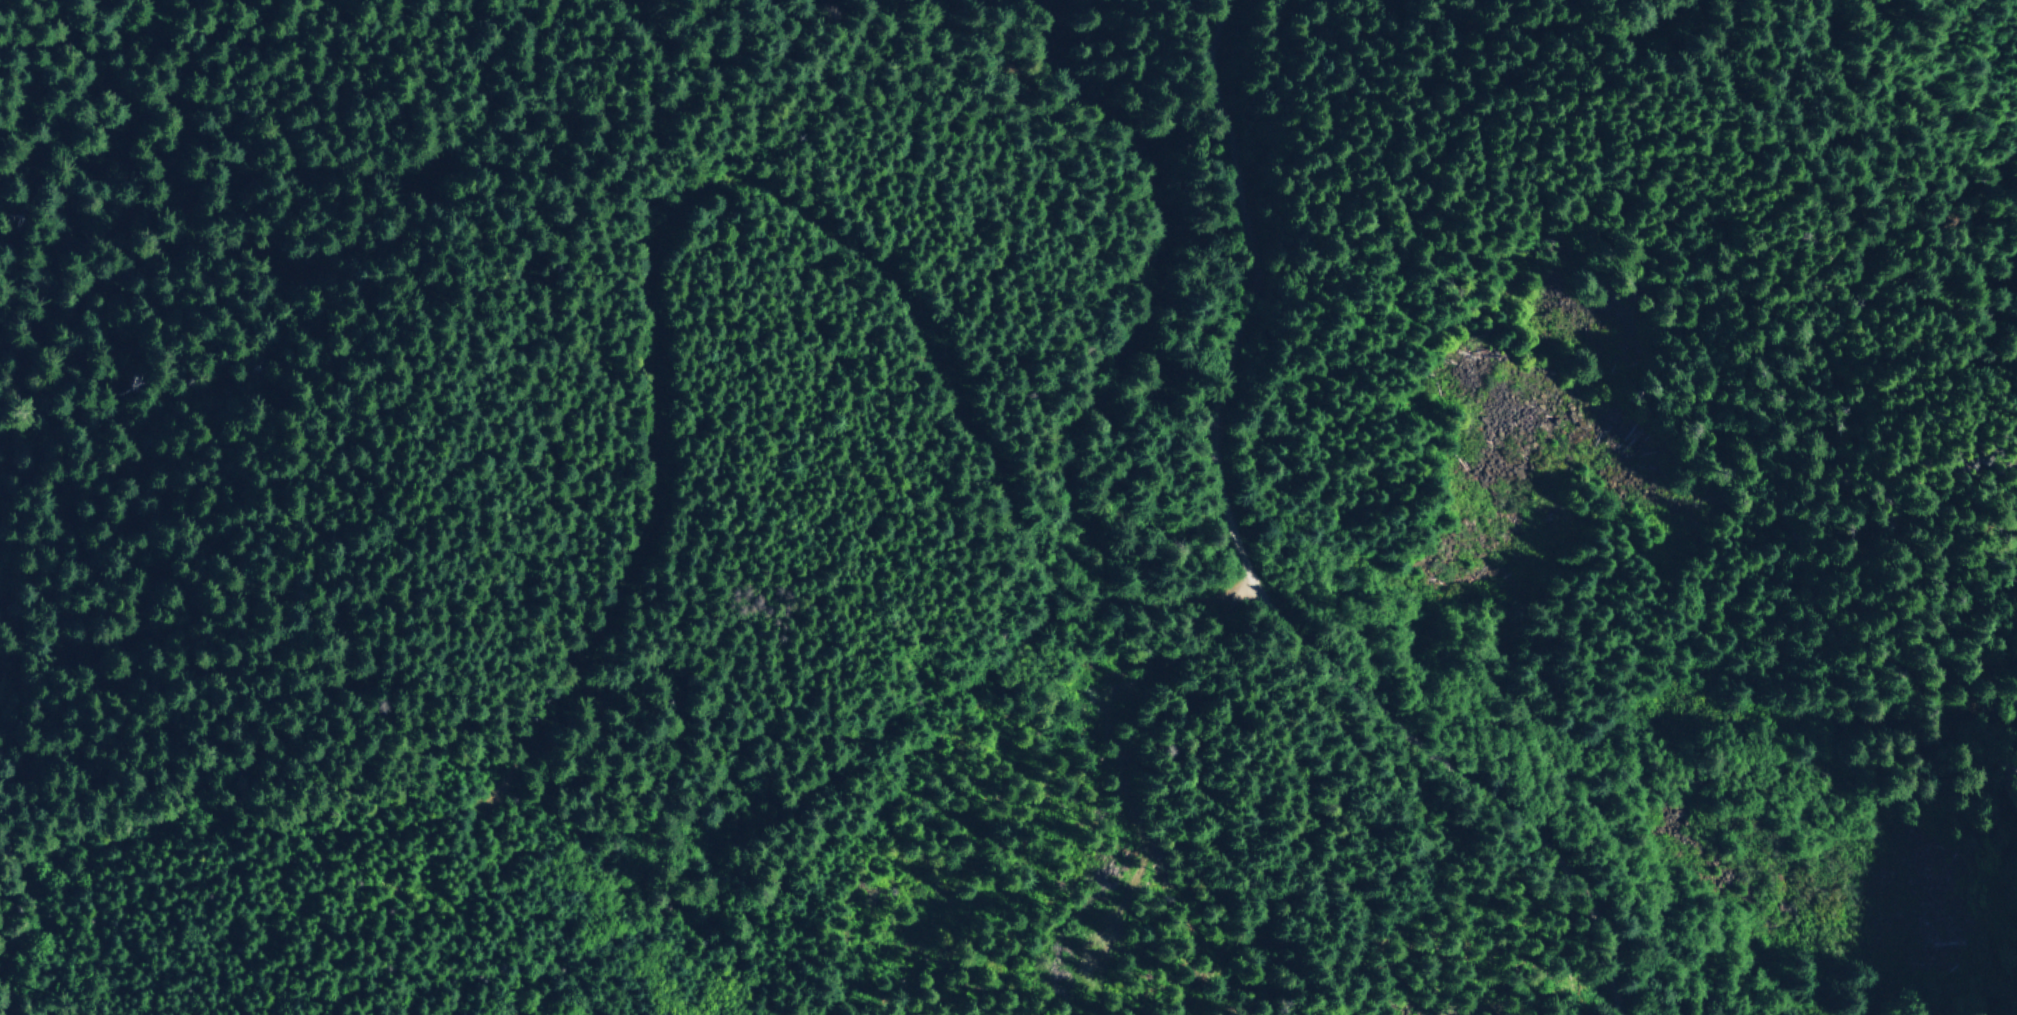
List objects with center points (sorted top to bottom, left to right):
road: (1993, 35)
road: (1299, 578)

